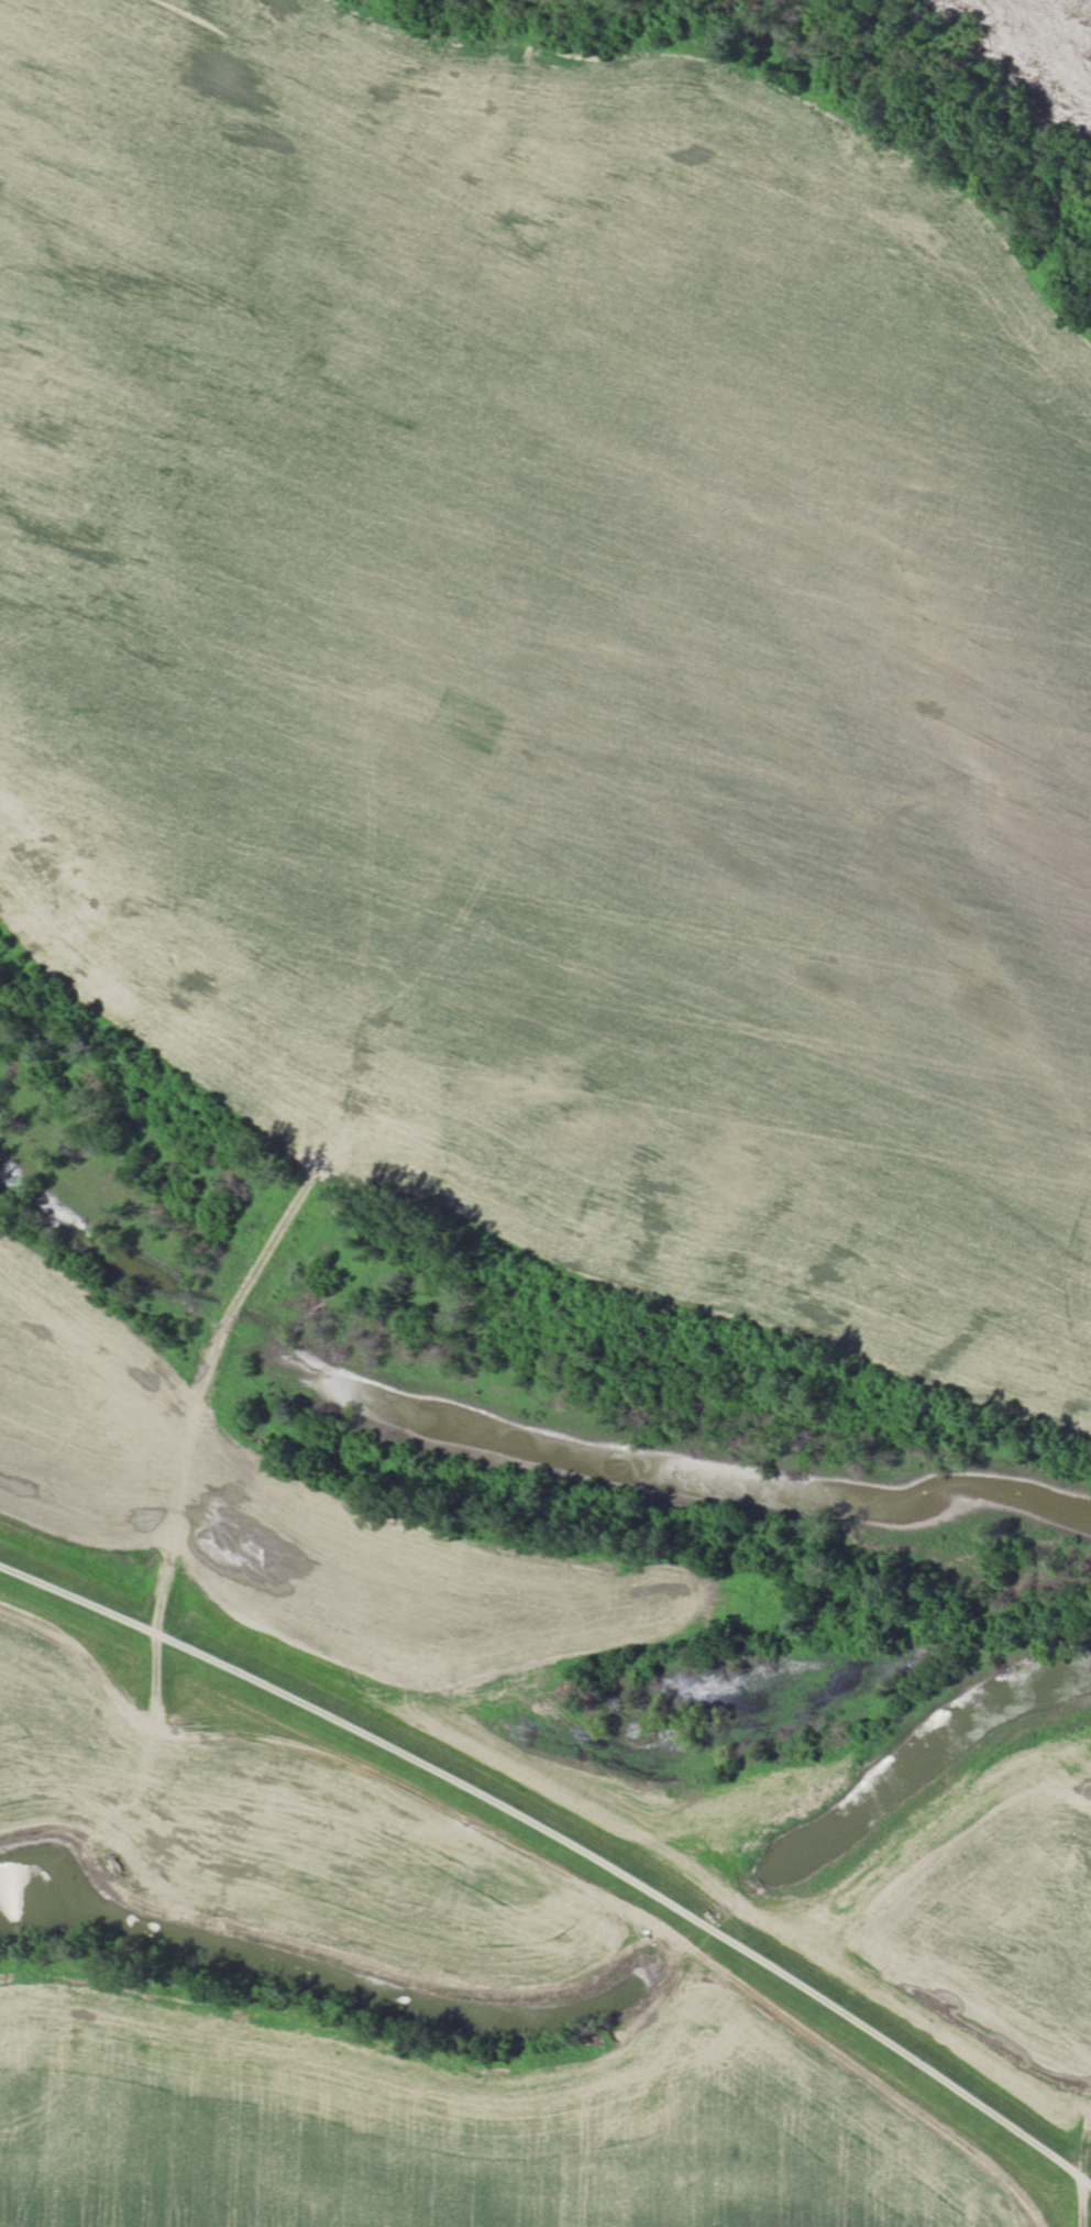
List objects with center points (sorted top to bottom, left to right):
crop: (562, 656)
crop: (299, 1521)
crop: (285, 1833)
road: (564, 1837)
crop: (993, 1937)
crop: (450, 2126)

